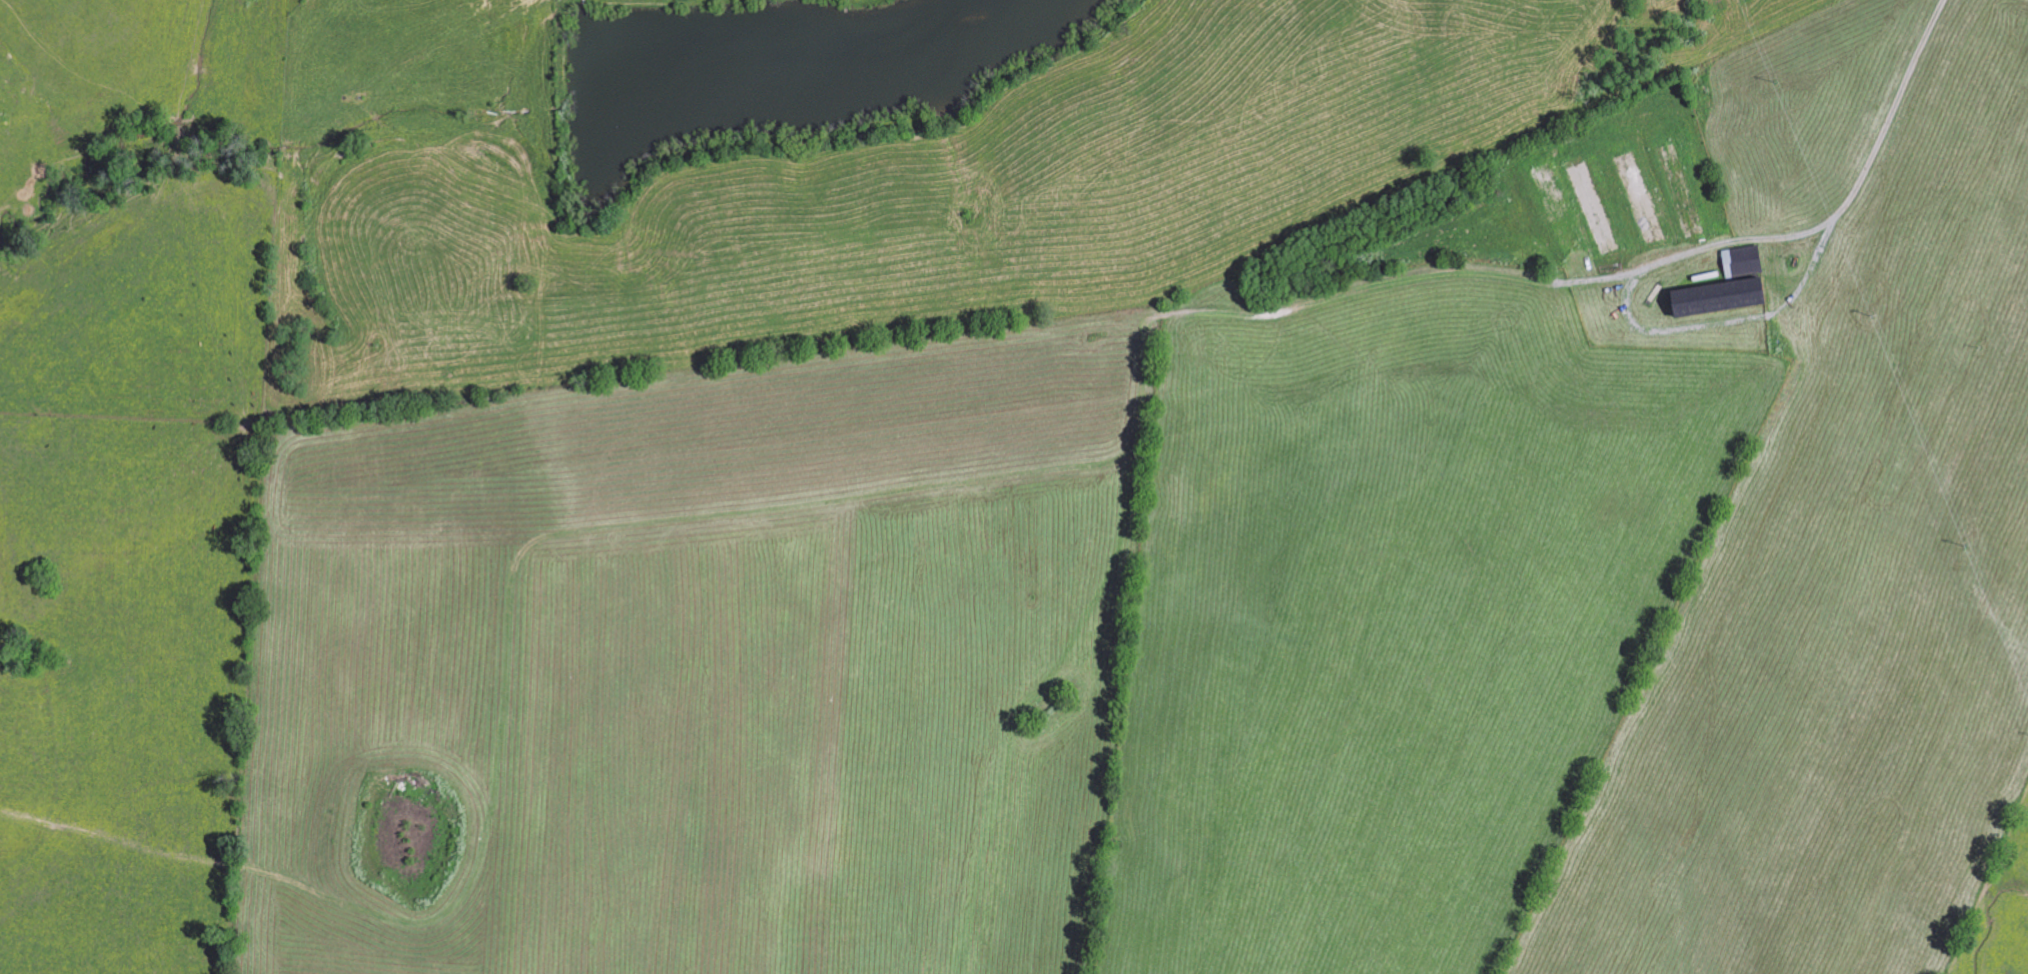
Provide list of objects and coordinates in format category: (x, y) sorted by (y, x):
building: (1741, 262)
building: (1712, 299)

